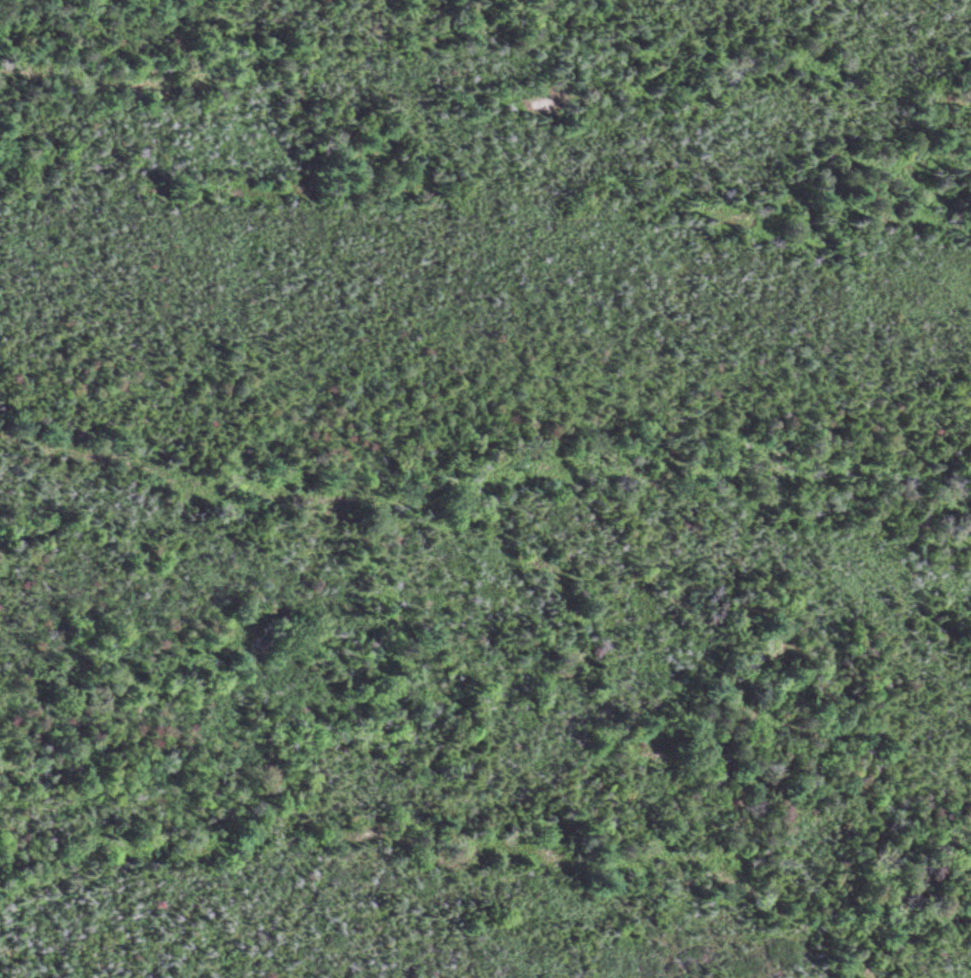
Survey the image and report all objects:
road: (241, 59)

